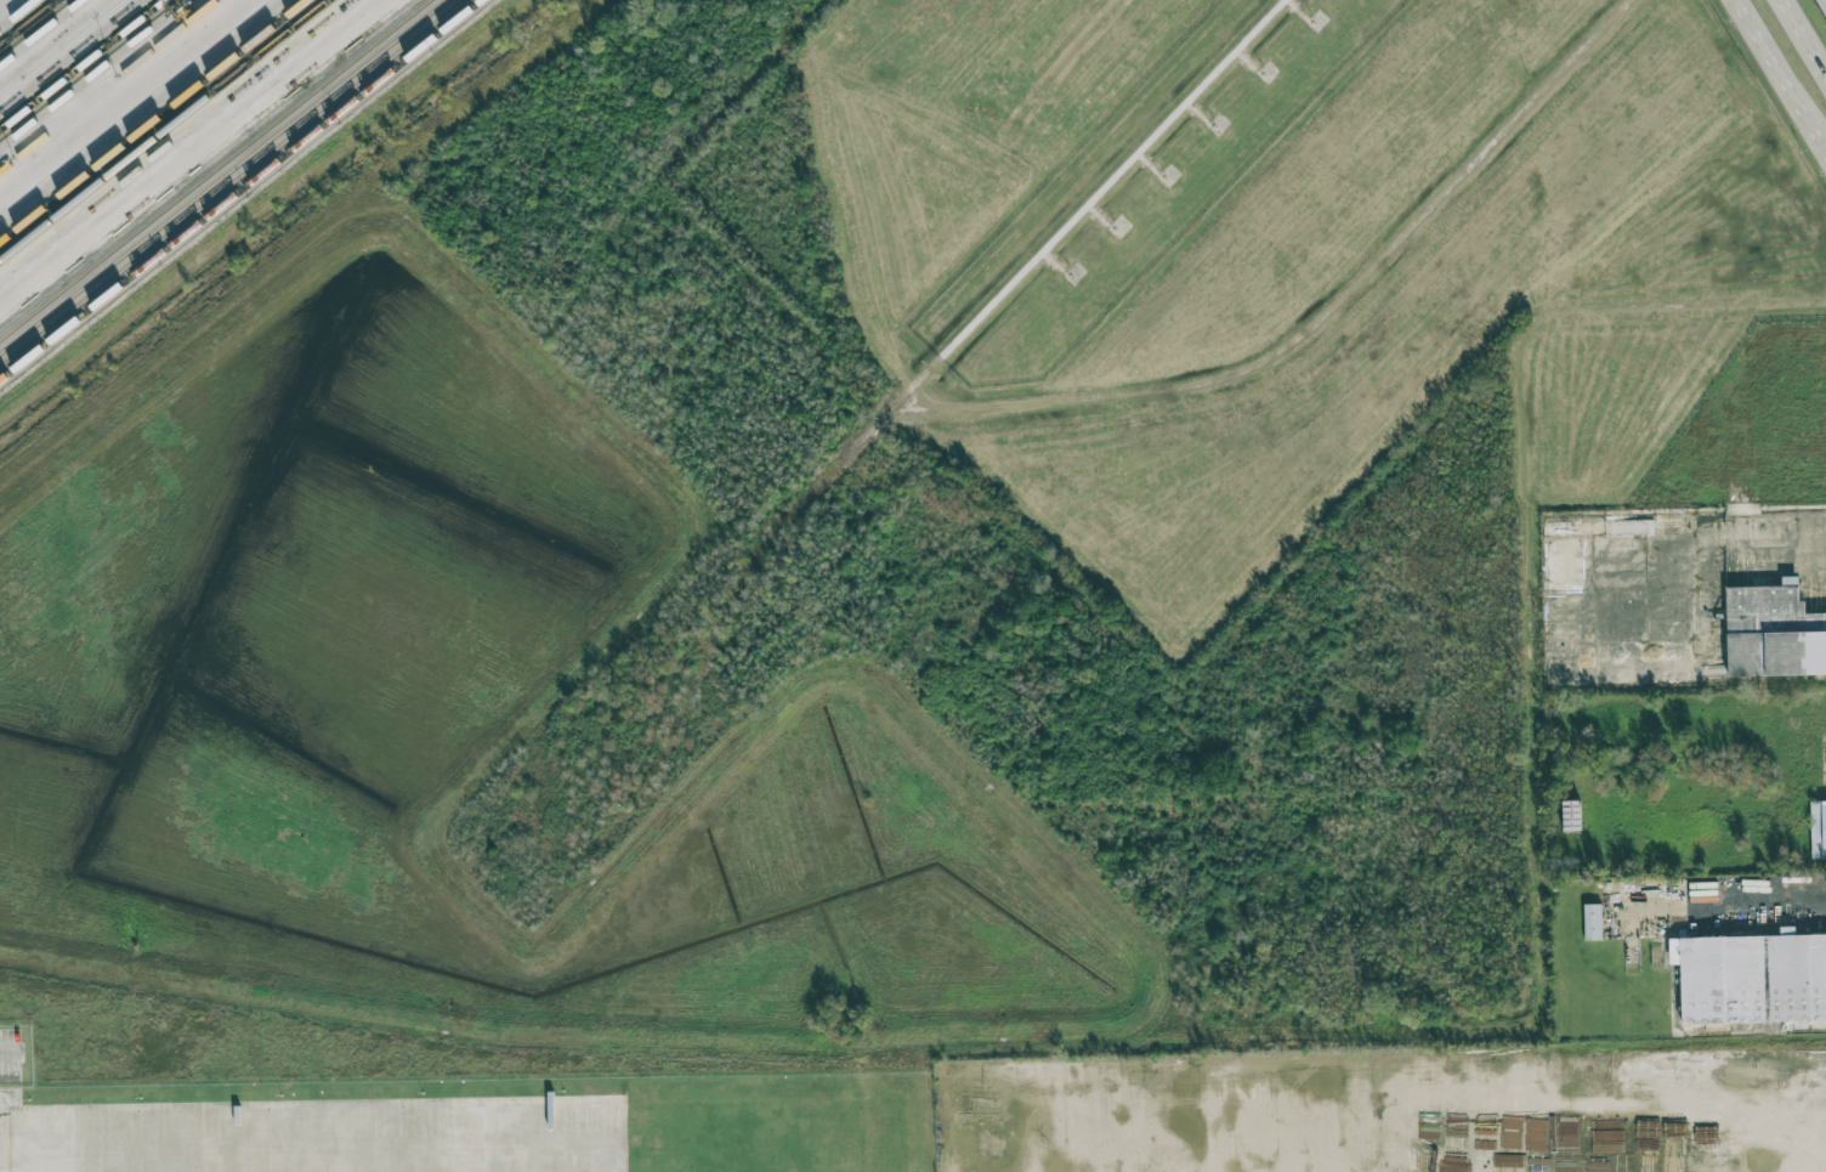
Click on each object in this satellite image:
railway: (29, 22)
road: (1808, 29)
railway: (81, 64)
airport: (1784, 67)
road: (1785, 67)
railway: (217, 86)
railway: (154, 123)
road: (192, 151)
road: (1115, 175)
airport: (1142, 187)
railway: (55, 217)
road: (1758, 525)
building: (1773, 633)
building: (1818, 828)
building: (1592, 922)
building: (1751, 980)
road: (2, 1049)
road: (1688, 1110)
road: (310, 1157)

